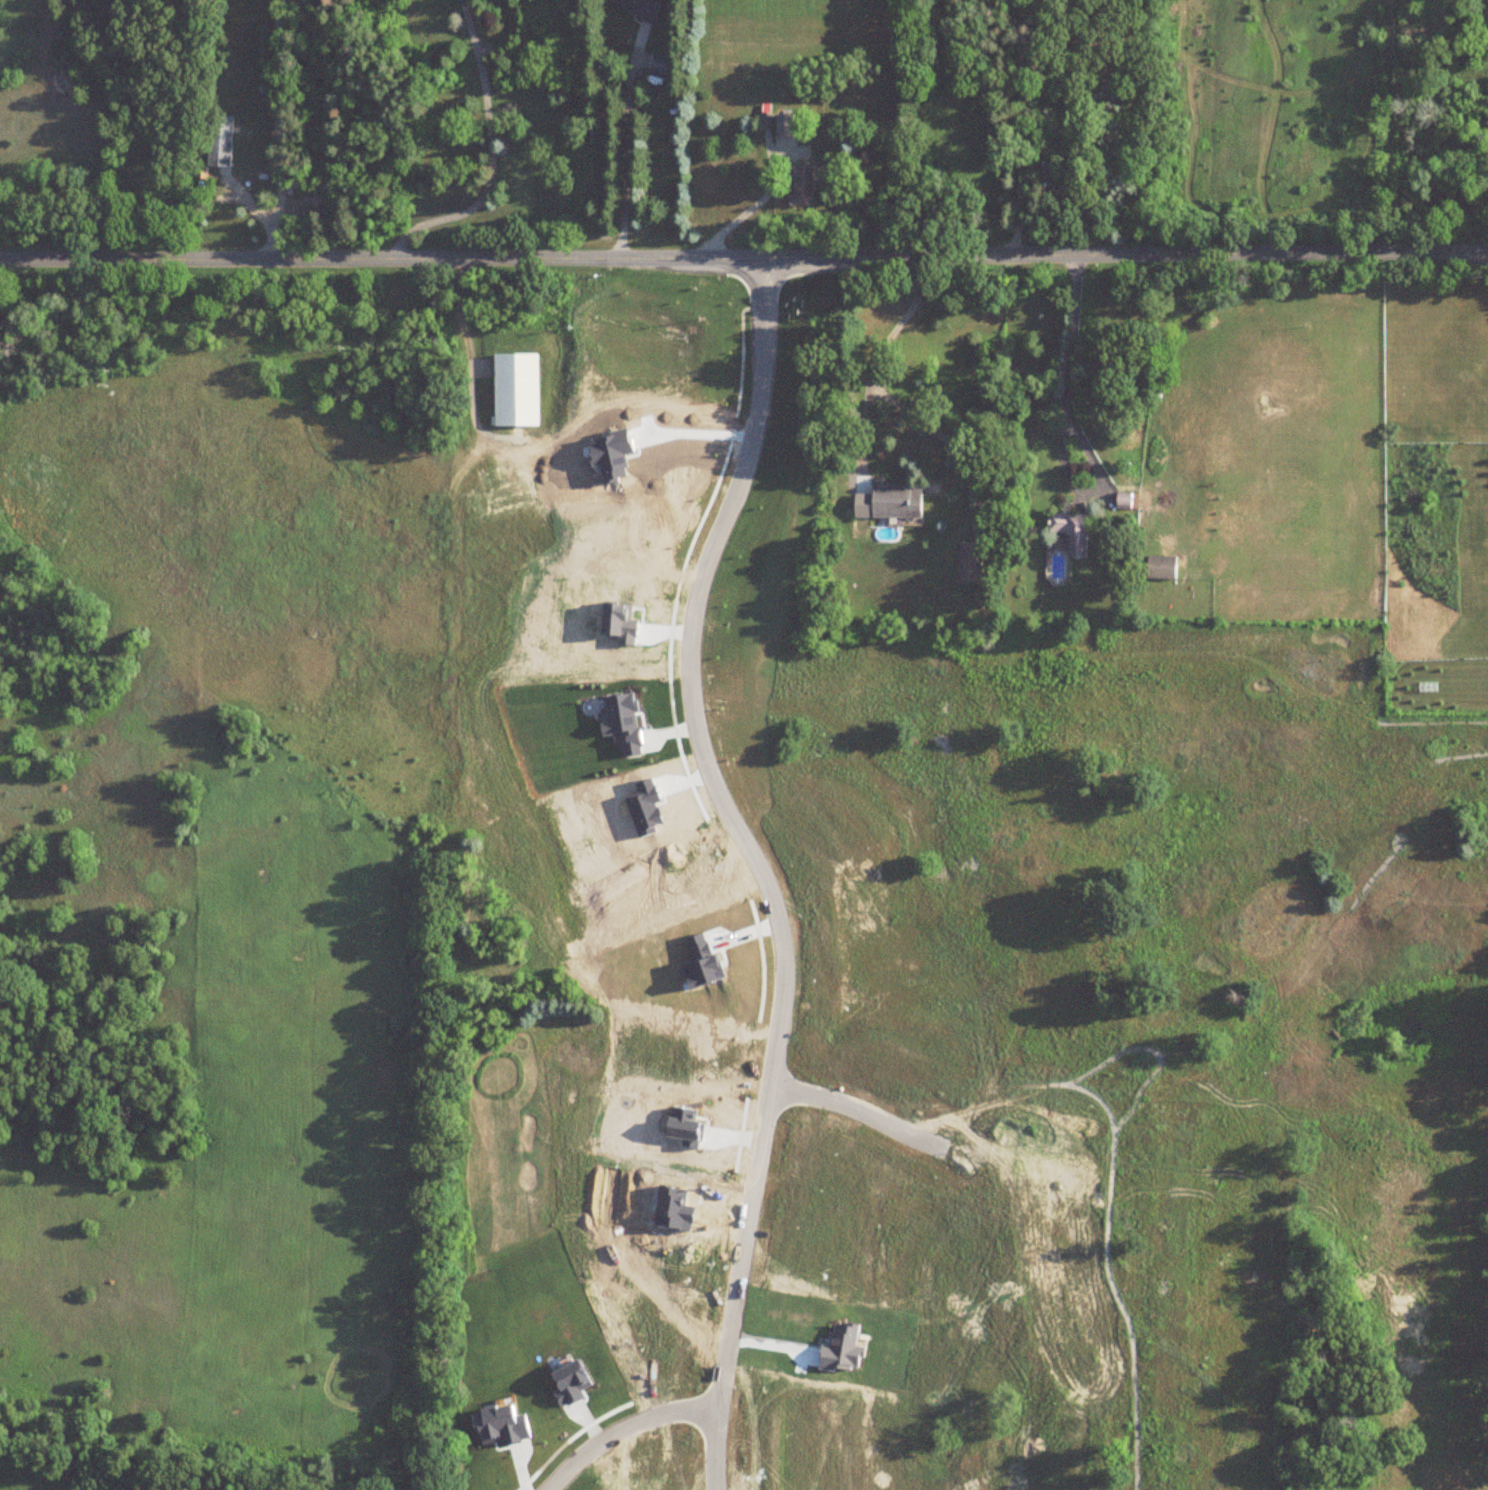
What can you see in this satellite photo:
building: (636, 8)
building: (765, 120)
building: (785, 126)
road: (1021, 128)
road: (274, 129)
building: (218, 141)
road: (489, 155)
road: (626, 157)
building: (799, 186)
road: (744, 259)
road: (881, 352)
building: (513, 388)
road: (1063, 426)
road: (695, 434)
building: (895, 498)
building: (1127, 499)
building: (1071, 528)
building: (968, 561)
building: (1161, 564)
building: (623, 705)
building: (520, 866)
road: (760, 866)
road: (628, 1428)

